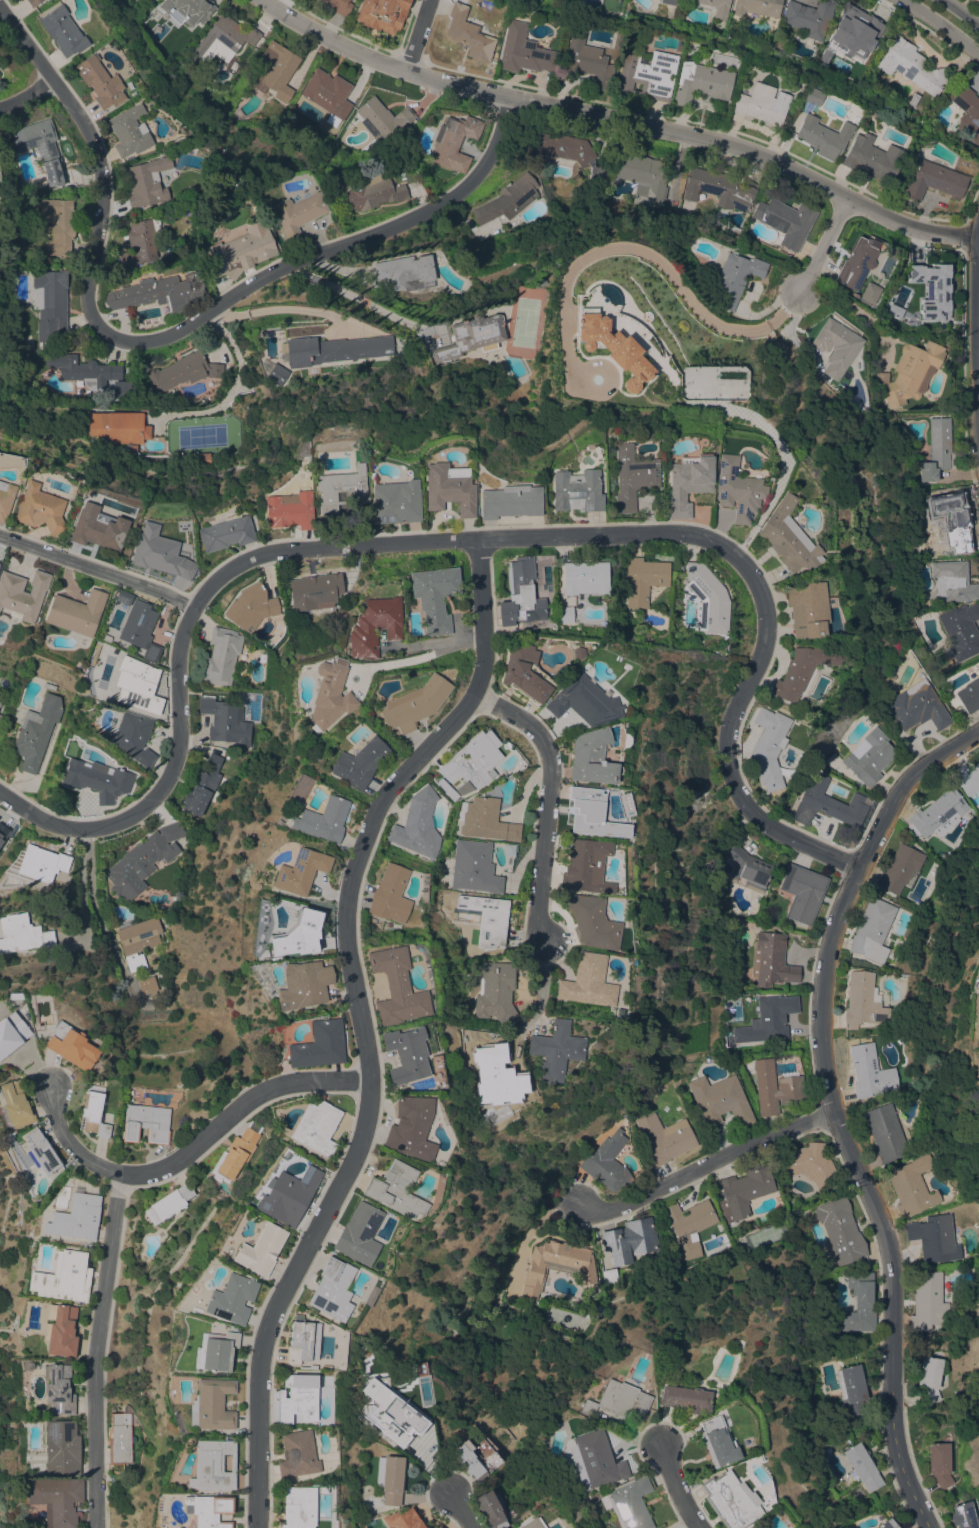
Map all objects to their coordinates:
building: (60, 1)
building: (668, 1)
building: (33, 2)
building: (337, 6)
building: (717, 7)
building: (757, 7)
building: (187, 10)
building: (382, 14)
building: (808, 17)
road: (952, 19)
building: (63, 31)
building: (468, 33)
road: (415, 35)
building: (854, 37)
building: (222, 40)
building: (524, 51)
building: (586, 58)
building: (910, 65)
building: (275, 70)
building: (647, 75)
building: (100, 82)
building: (701, 82)
road: (26, 93)
building: (328, 94)
building: (813, 96)
building: (914, 99)
building: (761, 103)
building: (966, 112)
building: (381, 120)
road: (617, 120)
building: (130, 131)
building: (823, 136)
building: (454, 141)
building: (41, 147)
building: (570, 151)
building: (872, 158)
building: (643, 178)
building: (934, 181)
building: (147, 182)
building: (719, 188)
building: (375, 192)
building: (2, 197)
building: (508, 199)
building: (297, 213)
building: (785, 220)
building: (58, 225)
building: (733, 228)
building: (139, 242)
road: (633, 247)
road: (821, 248)
building: (241, 249)
building: (856, 263)
building: (406, 272)
building: (737, 276)
building: (540, 282)
building: (9, 288)
building: (929, 288)
building: (157, 292)
building: (869, 293)
road: (360, 301)
building: (50, 303)
road: (976, 329)
road: (170, 335)
building: (471, 336)
building: (836, 346)
building: (612, 347)
building: (335, 349)
building: (84, 369)
building: (273, 370)
building: (183, 371)
building: (910, 372)
building: (712, 383)
building: (122, 386)
building: (118, 426)
building: (133, 447)
building: (936, 449)
building: (201, 458)
building: (632, 477)
building: (688, 482)
building: (449, 488)
building: (341, 489)
building: (737, 489)
building: (576, 490)
building: (5, 498)
building: (396, 501)
building: (510, 501)
building: (40, 508)
building: (290, 510)
building: (949, 518)
building: (98, 527)
building: (226, 533)
building: (788, 537)
road: (470, 538)
building: (947, 545)
building: (160, 552)
road: (97, 570)
building: (585, 577)
building: (643, 579)
building: (953, 581)
building: (314, 591)
building: (22, 594)
building: (521, 594)
building: (123, 596)
building: (435, 596)
building: (708, 598)
building: (921, 602)
building: (251, 606)
building: (807, 609)
building: (76, 612)
building: (565, 614)
building: (375, 625)
building: (140, 629)
building: (961, 631)
road: (419, 655)
building: (221, 656)
building: (801, 670)
building: (525, 673)
building: (137, 684)
building: (49, 685)
building: (944, 689)
building: (330, 694)
building: (970, 695)
building: (0, 700)
building: (583, 701)
building: (0, 702)
building: (414, 704)
building: (917, 706)
building: (0, 715)
building: (225, 721)
building: (36, 732)
building: (134, 737)
building: (769, 746)
building: (978, 754)
building: (869, 756)
building: (591, 757)
building: (473, 761)
building: (360, 762)
building: (519, 765)
building: (968, 778)
building: (97, 780)
building: (201, 785)
road: (545, 801)
building: (829, 806)
building: (939, 813)
building: (591, 816)
building: (323, 819)
building: (485, 820)
building: (417, 825)
building: (4, 836)
building: (142, 860)
building: (41, 865)
building: (585, 865)
building: (474, 867)
building: (748, 869)
building: (901, 869)
building: (300, 870)
building: (802, 892)
building: (390, 894)
road: (88, 905)
building: (487, 918)
building: (591, 921)
building: (757, 925)
building: (873, 930)
building: (22, 933)
building: (298, 933)
building: (138, 941)
building: (771, 960)
building: (589, 981)
building: (304, 984)
building: (146, 985)
building: (397, 987)
building: (495, 991)
building: (864, 1001)
building: (769, 1019)
road: (359, 1023)
building: (11, 1032)
building: (319, 1045)
building: (72, 1047)
building: (555, 1050)
building: (407, 1054)
building: (870, 1072)
building: (491, 1073)
building: (522, 1083)
building: (775, 1087)
building: (720, 1100)
building: (16, 1103)
road: (827, 1108)
building: (93, 1111)
building: (146, 1123)
building: (317, 1127)
building: (411, 1127)
building: (885, 1132)
building: (665, 1138)
road: (190, 1147)
building: (42, 1151)
building: (236, 1153)
building: (607, 1162)
building: (810, 1164)
road: (709, 1170)
building: (912, 1186)
building: (395, 1189)
building: (744, 1191)
building: (289, 1195)
building: (172, 1201)
building: (76, 1217)
building: (689, 1225)
building: (841, 1230)
building: (359, 1234)
building: (935, 1238)
building: (629, 1240)
building: (261, 1249)
building: (556, 1266)
building: (610, 1275)
building: (64, 1277)
building: (333, 1289)
building: (231, 1299)
building: (929, 1301)
building: (860, 1303)
building: (61, 1330)
building: (303, 1341)
road: (92, 1350)
building: (215, 1351)
building: (929, 1379)
building: (59, 1389)
building: (852, 1390)
building: (298, 1398)
building: (683, 1398)
building: (617, 1400)
building: (212, 1405)
building: (394, 1423)
building: (119, 1440)
building: (715, 1443)
building: (62, 1447)
building: (298, 1454)
building: (476, 1457)
building: (595, 1459)
building: (939, 1463)
building: (213, 1465)
building: (862, 1466)
building: (390, 1478)
road: (676, 1490)
building: (57, 1500)
building: (730, 1500)
building: (631, 1503)
building: (299, 1507)
building: (490, 1509)
building: (209, 1510)
road: (459, 1511)
building: (963, 1515)
building: (403, 1519)
building: (532, 1523)
building: (888, 1524)
building: (438, 1527)
building: (659, 1527)
building: (757, 1527)
building: (759, 1527)

